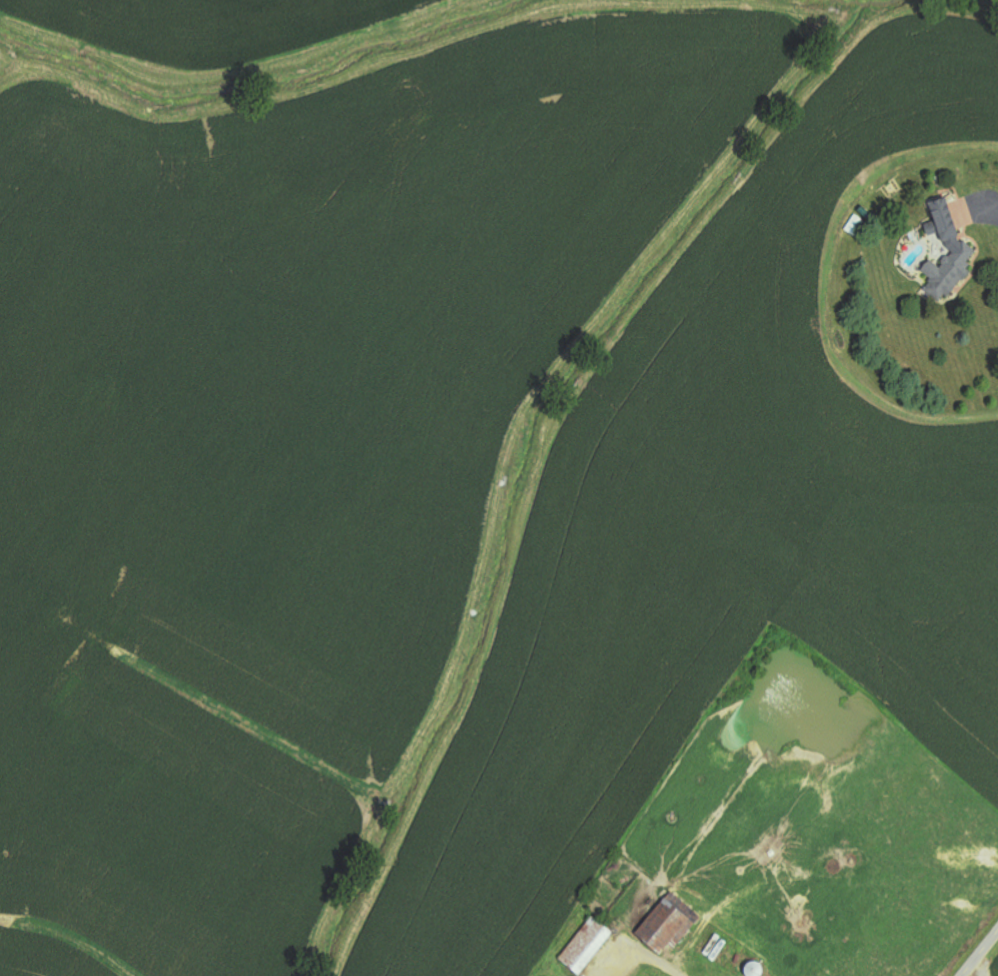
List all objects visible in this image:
road: (983, 206)
building: (951, 253)
building: (669, 926)
building: (588, 945)
road: (980, 954)
road: (658, 960)

